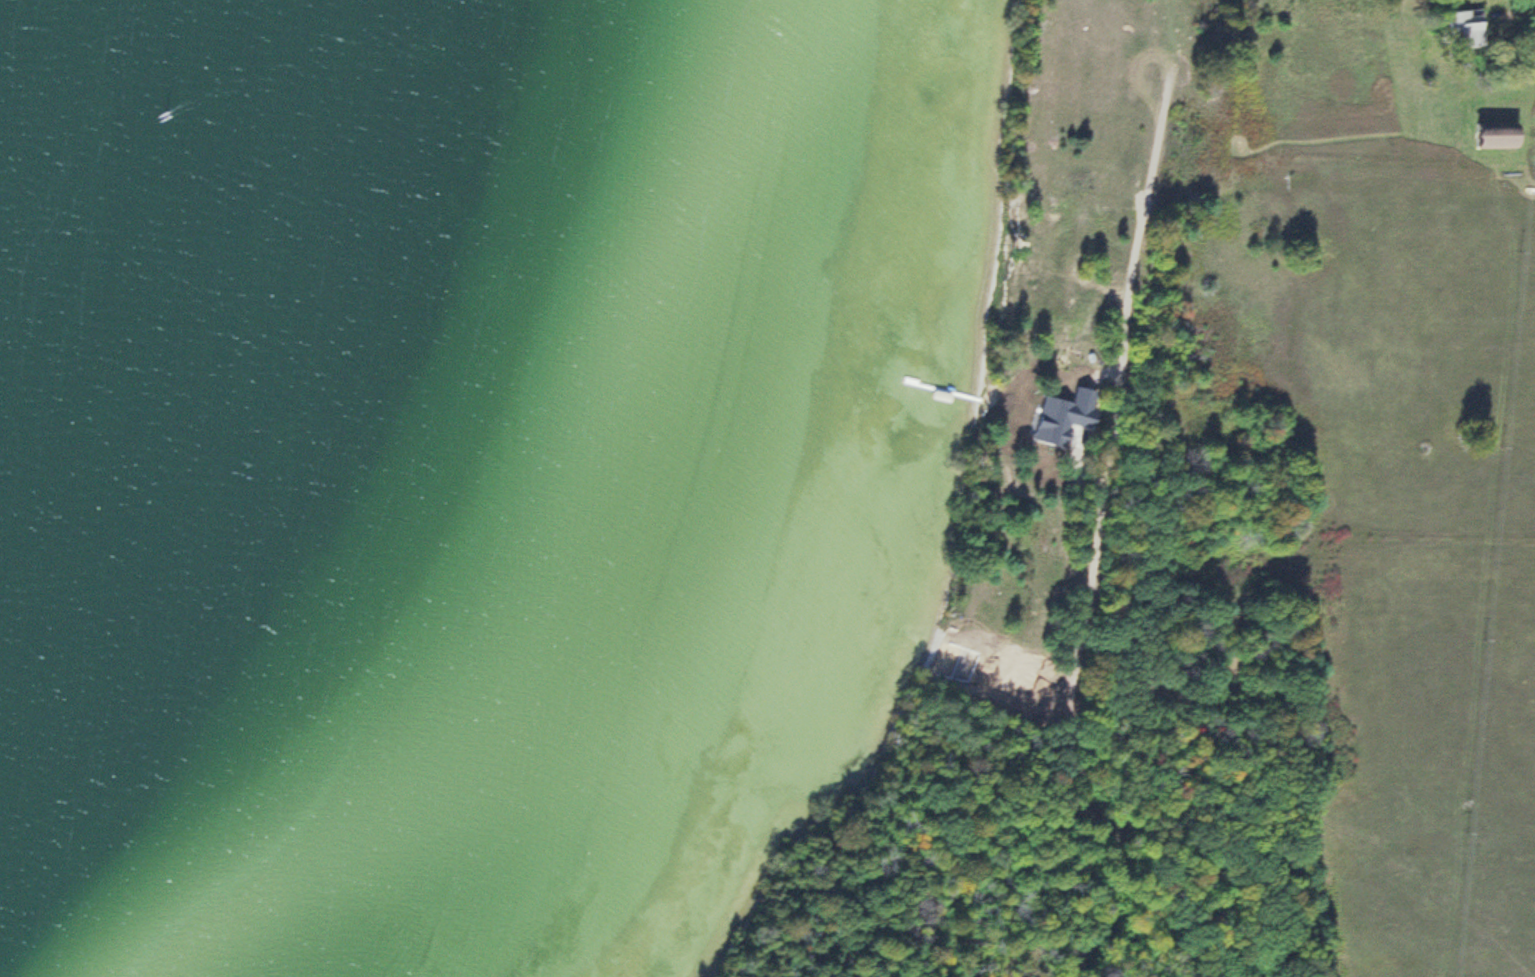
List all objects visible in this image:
road: (1525, 13)
building: (1469, 24)
building: (1499, 135)
building: (226, 215)
road: (1097, 533)

